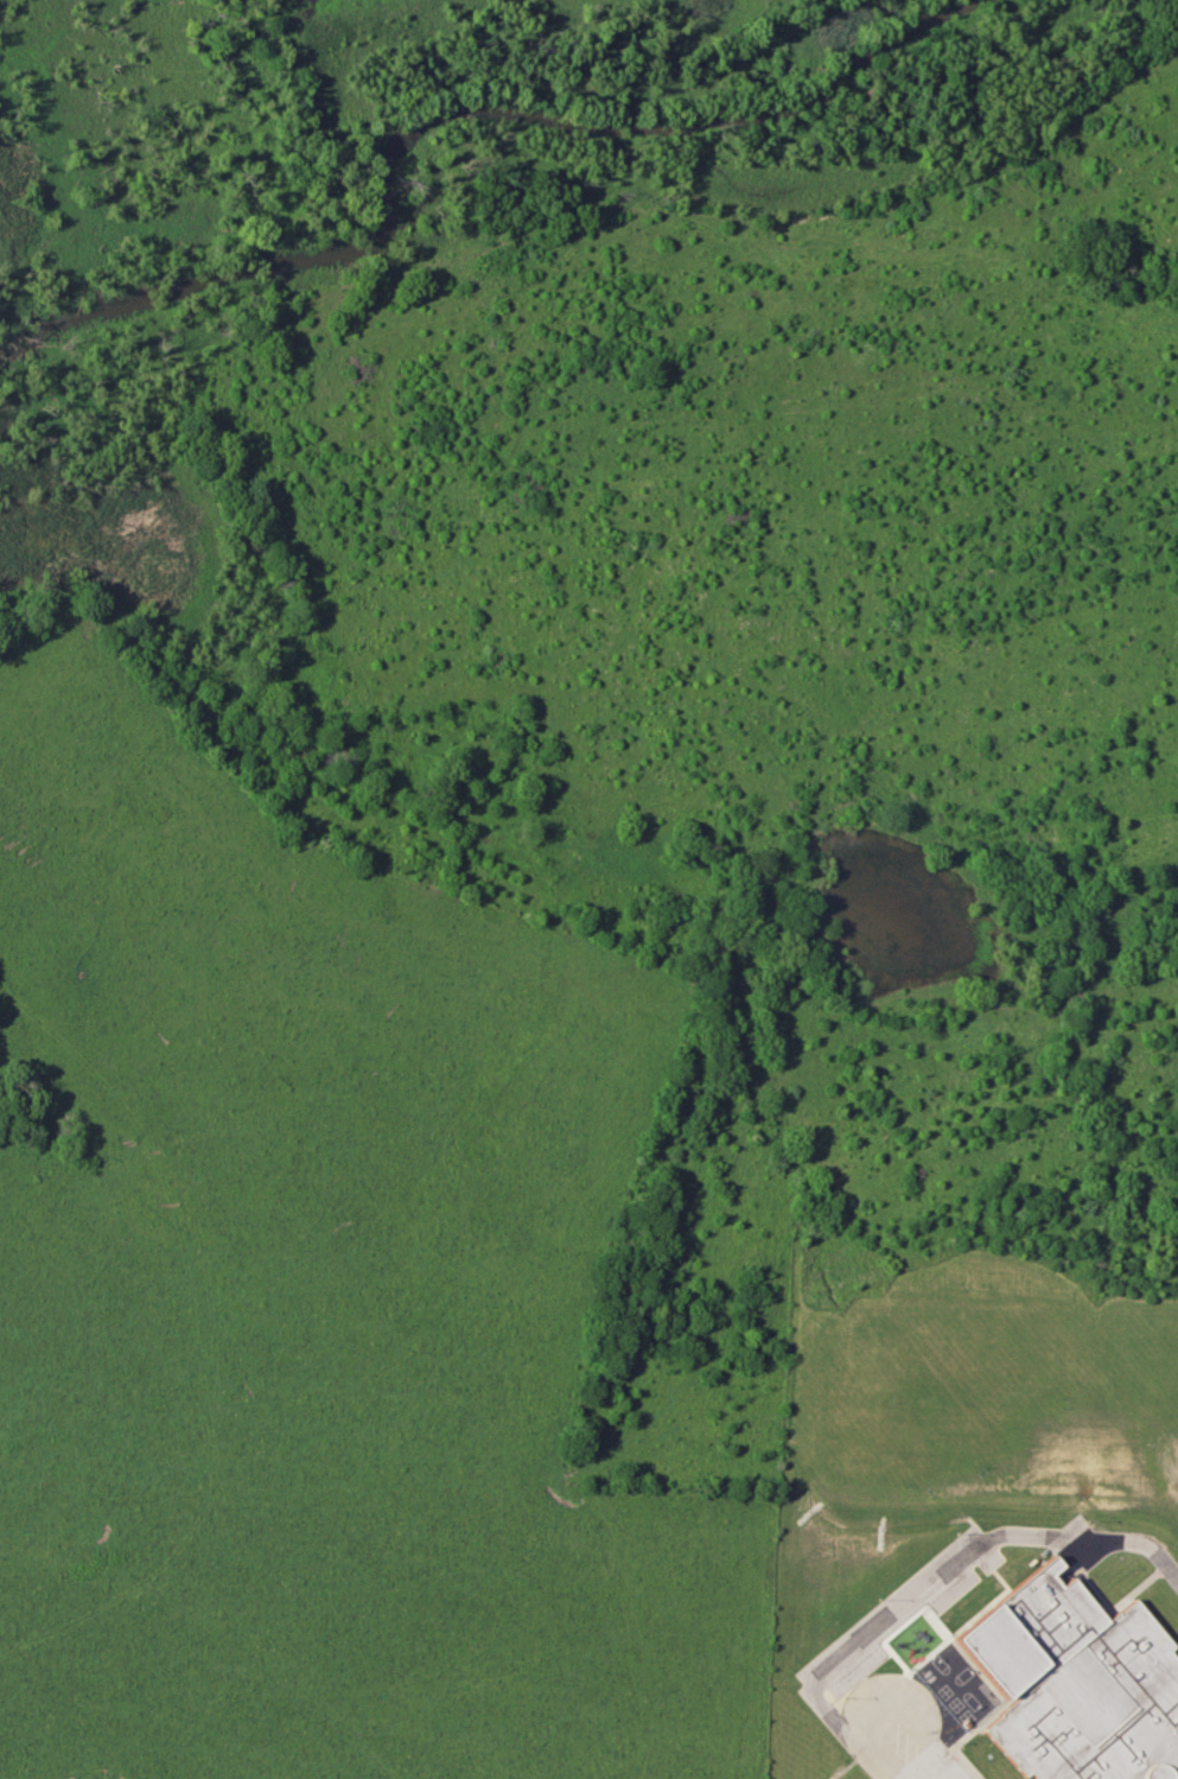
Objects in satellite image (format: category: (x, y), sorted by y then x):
road: (950, 1568)
building: (1077, 1683)
road: (885, 1752)

